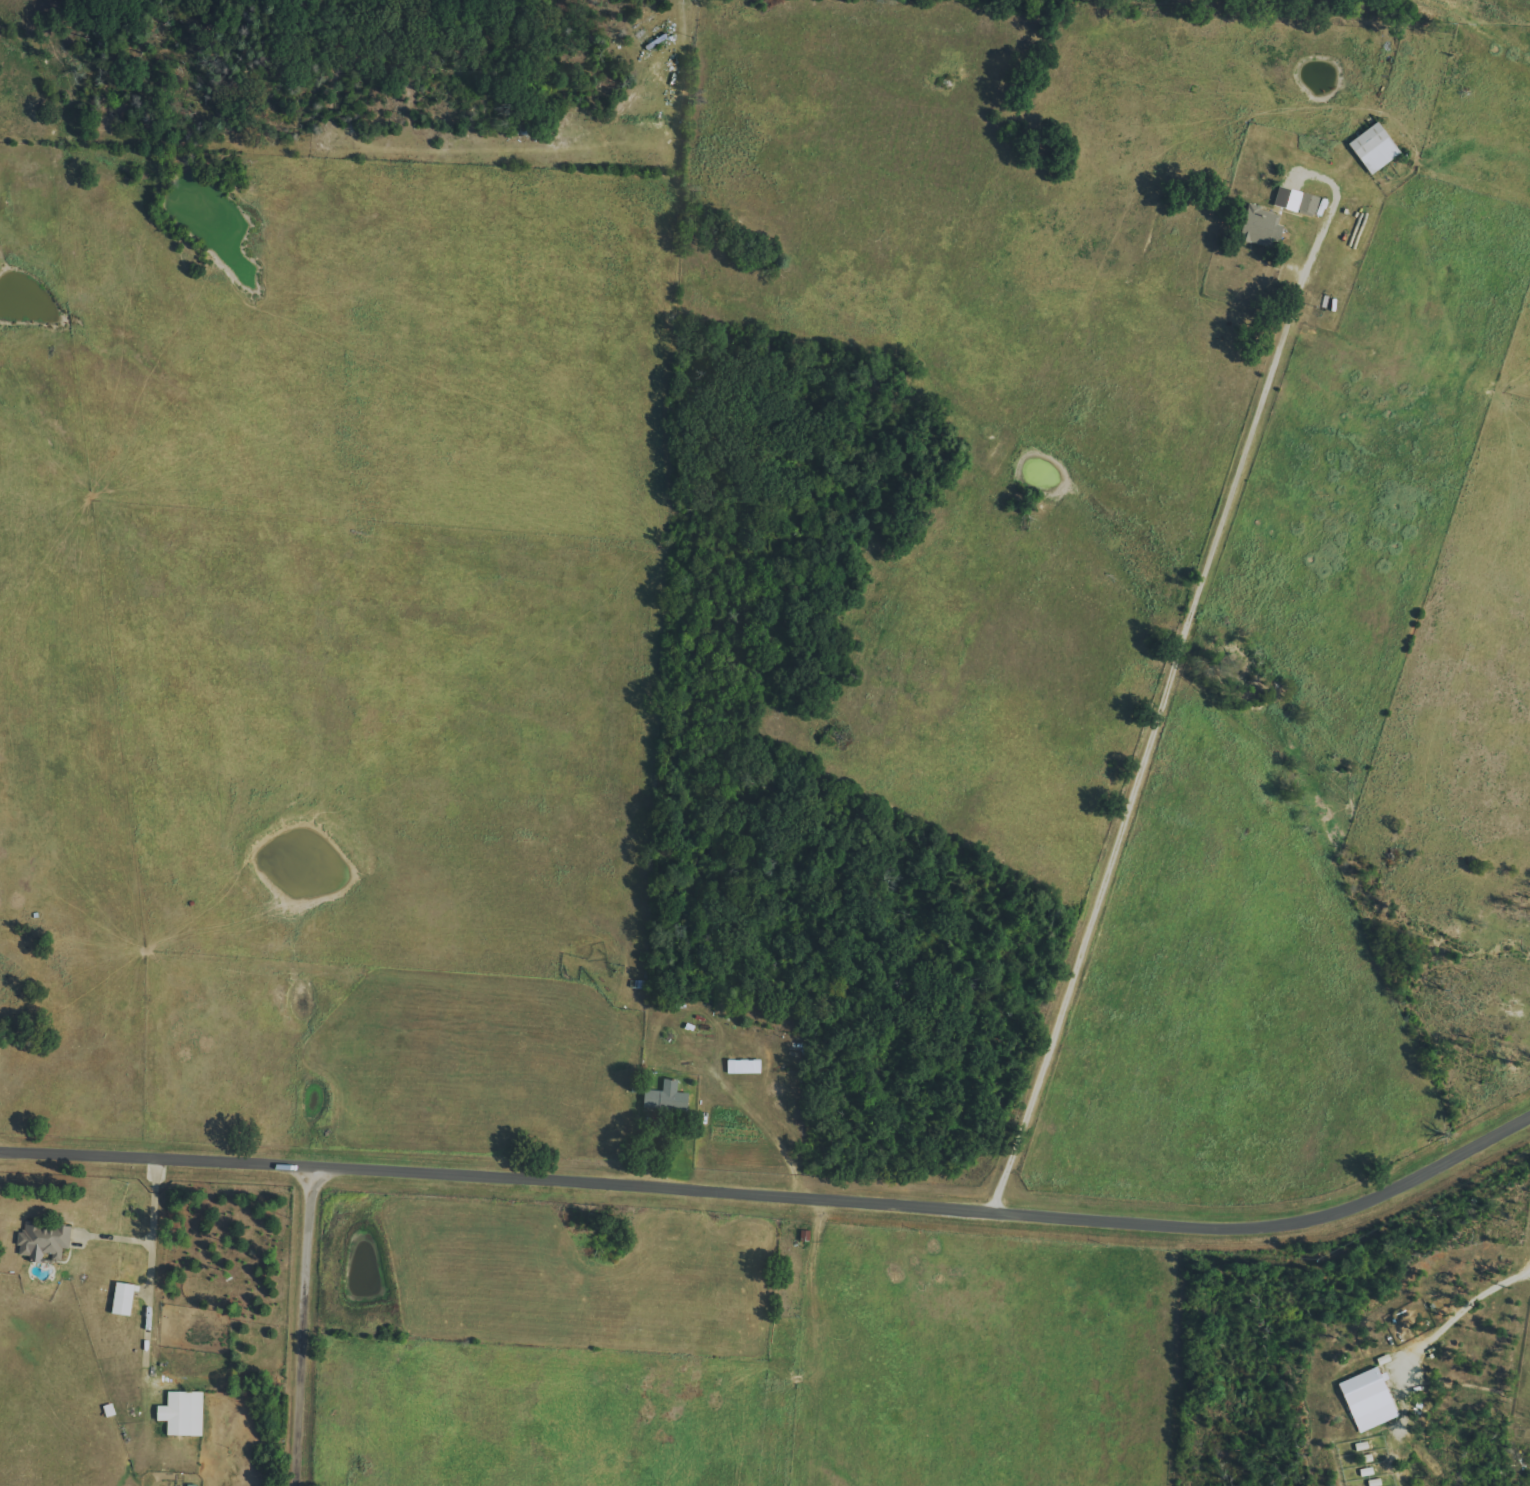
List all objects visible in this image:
building: (1375, 148)
building: (1308, 204)
building: (1258, 226)
road: (1150, 745)
road: (707, 1062)
building: (744, 1066)
building: (667, 1099)
road: (777, 1191)
building: (43, 1241)
road: (153, 1269)
building: (124, 1299)
road: (1462, 1318)
road: (306, 1323)
building: (1368, 1399)
building: (183, 1414)

